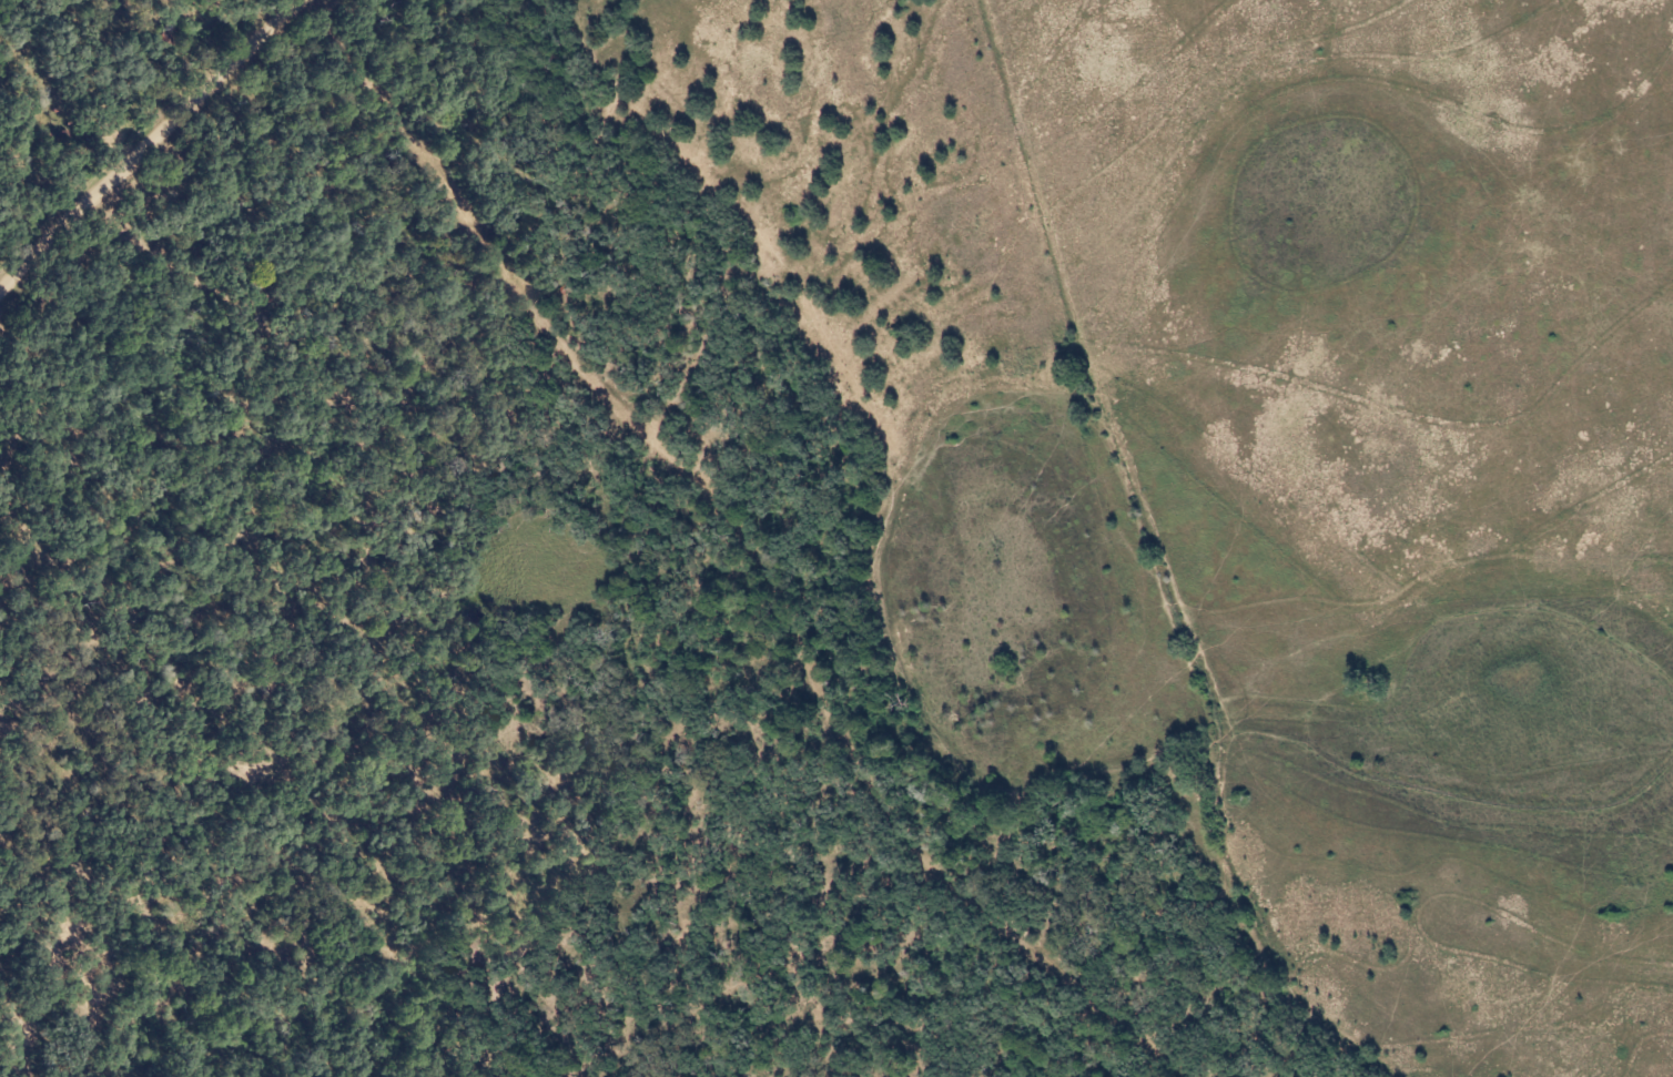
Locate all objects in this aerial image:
road: (149, 148)
road: (771, 543)

